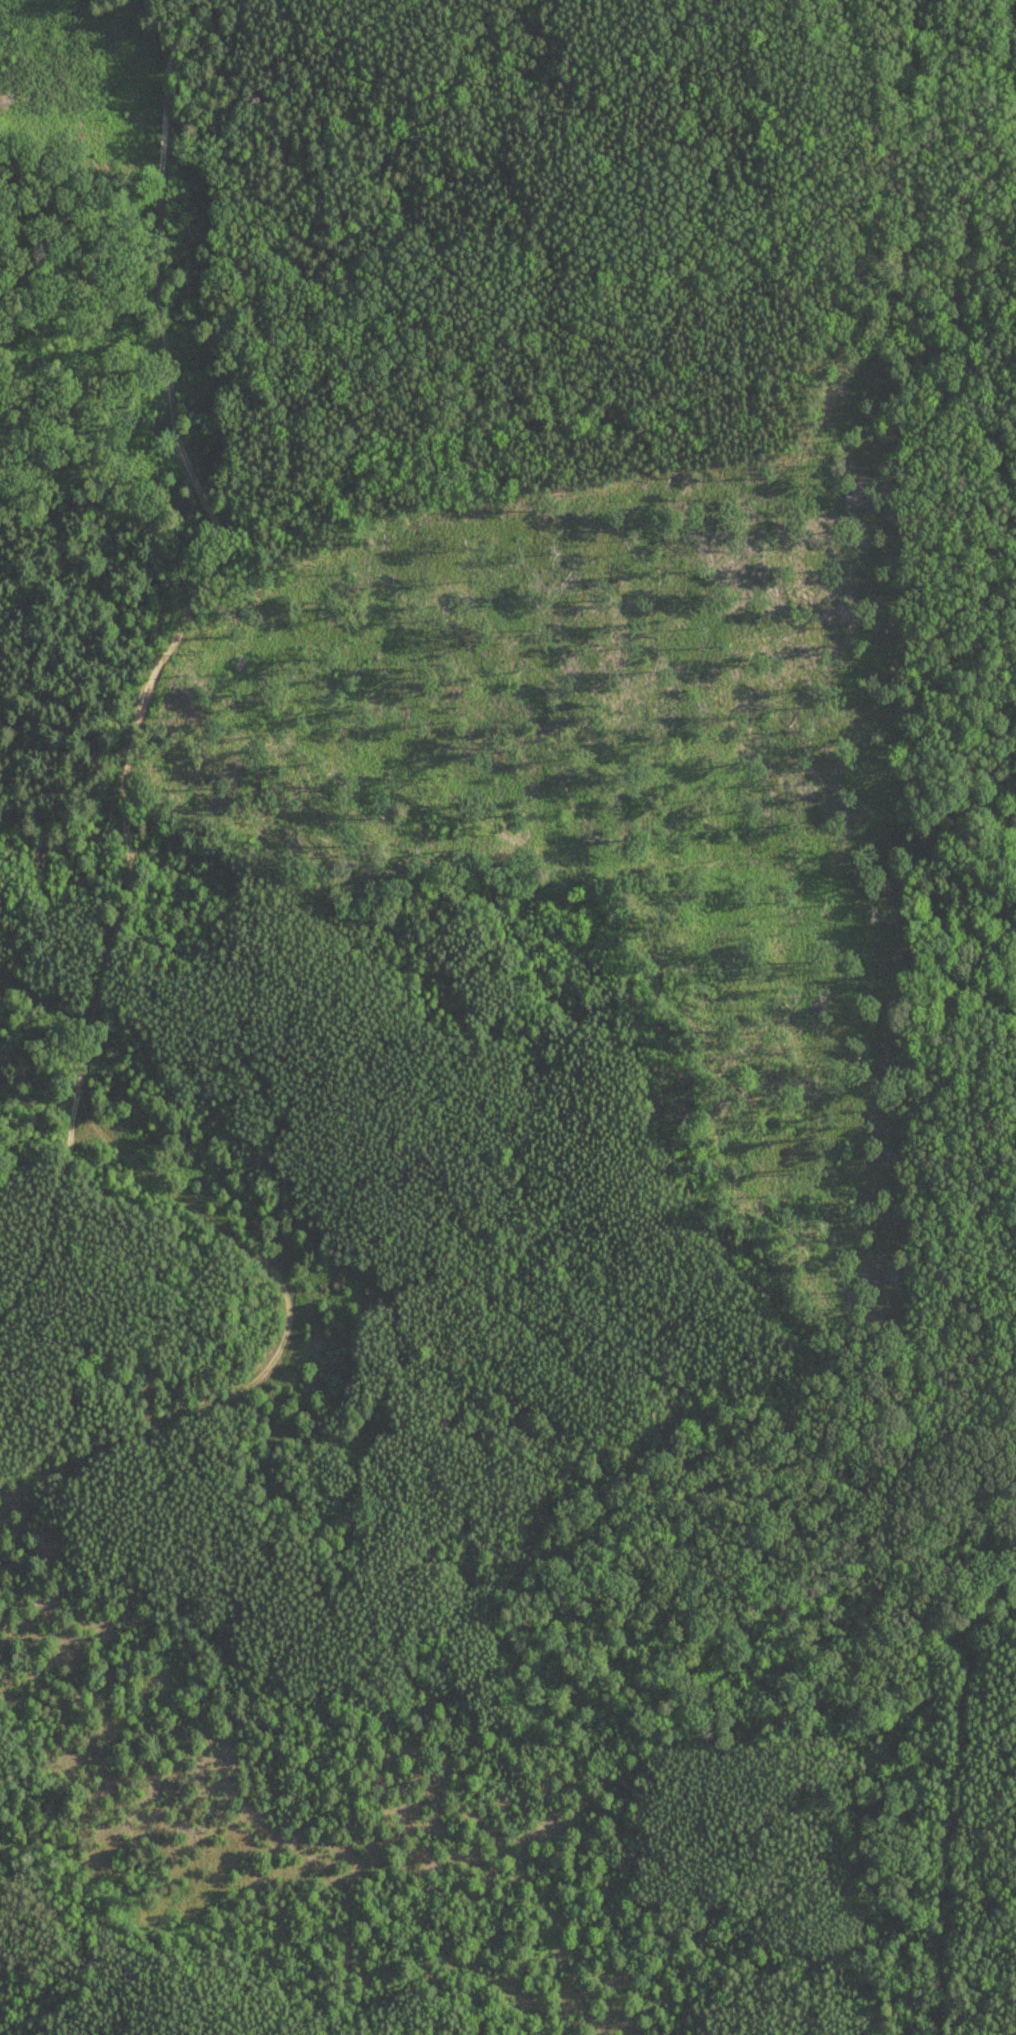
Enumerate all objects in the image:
road: (128, 868)
road: (58, 1217)

